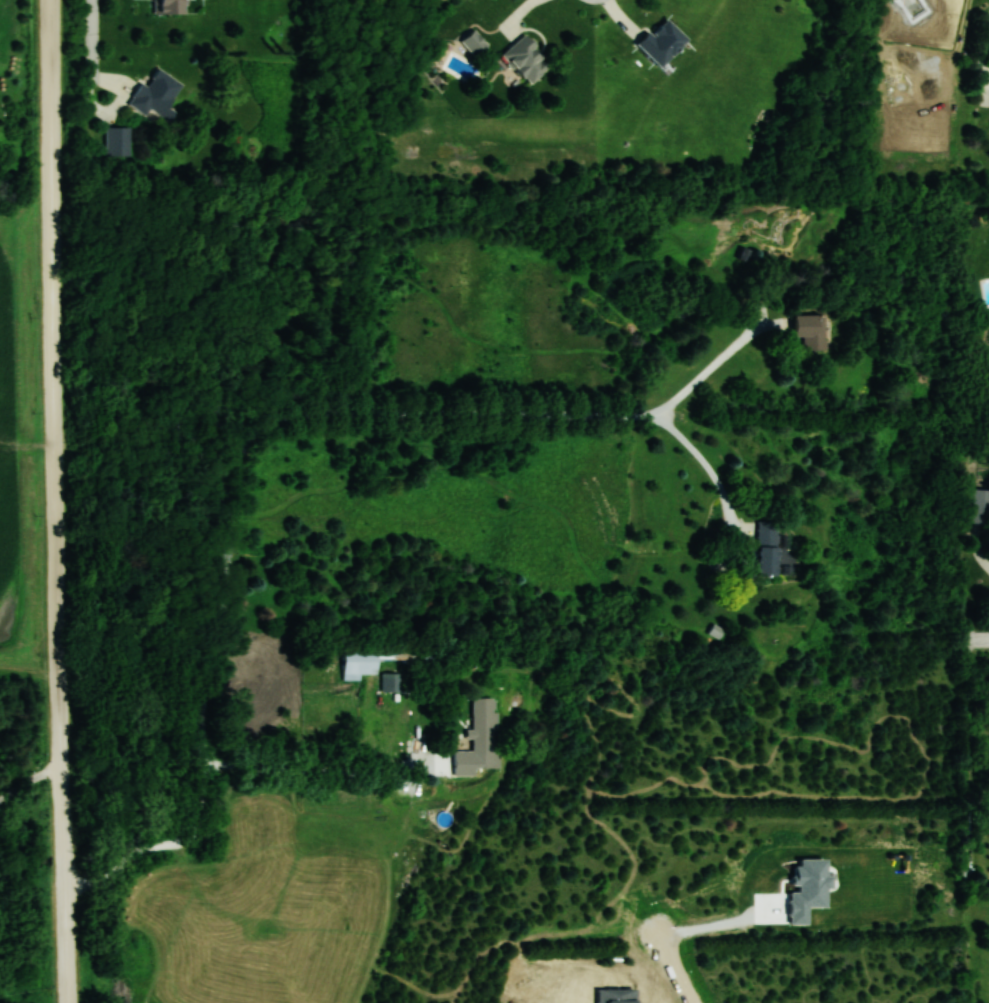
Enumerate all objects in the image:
building: (170, 7)
building: (662, 42)
building: (474, 43)
road: (88, 49)
building: (526, 59)
building: (156, 94)
building: (118, 140)
building: (810, 330)
road: (706, 373)
road: (257, 438)
road: (58, 501)
building: (977, 505)
building: (767, 548)
road: (974, 636)
building: (361, 662)
building: (484, 732)
road: (332, 772)
road: (30, 781)
road: (714, 926)
road: (679, 970)

